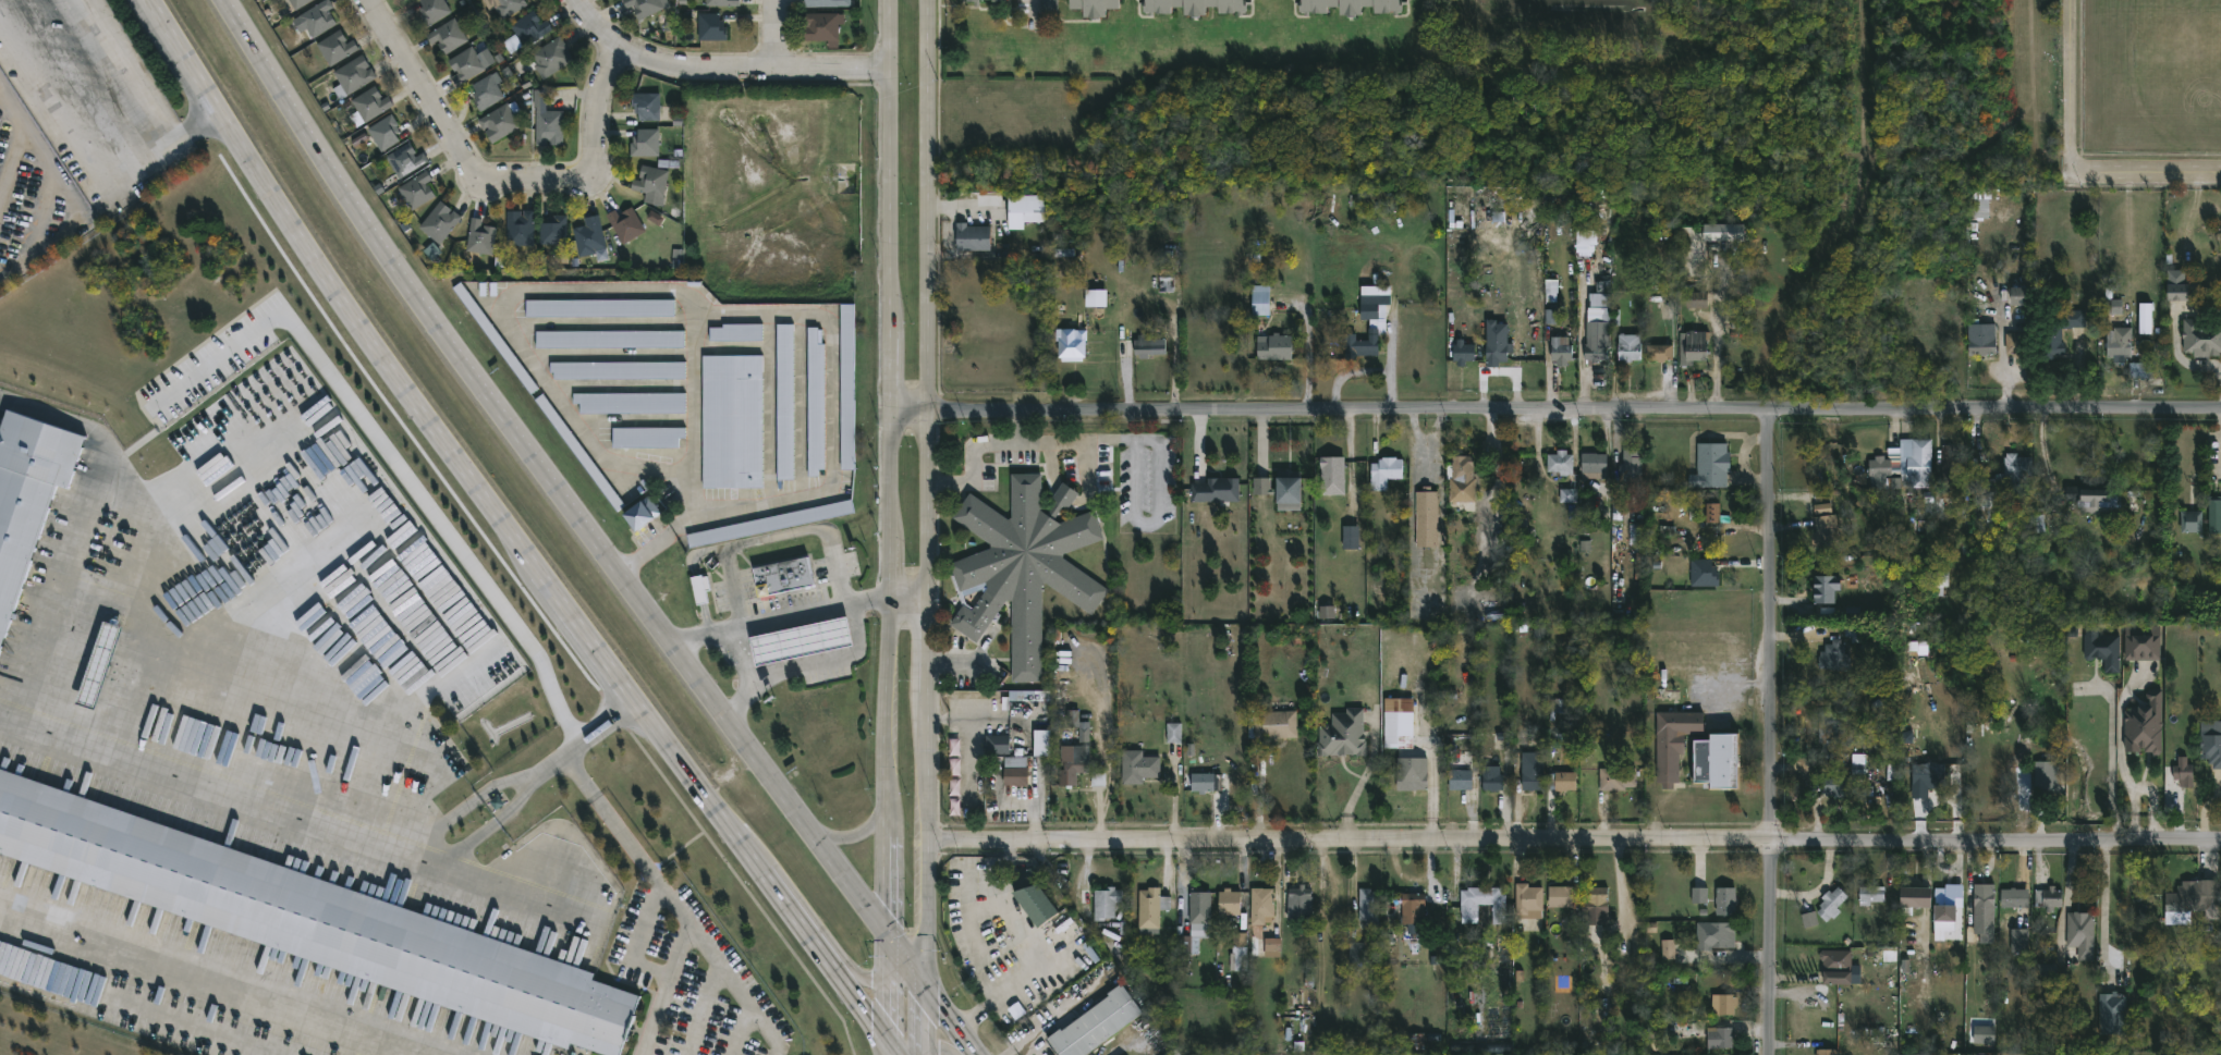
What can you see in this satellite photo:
building: (408, 0)
building: (722, 2)
building: (828, 2)
building: (977, 2)
building: (297, 3)
road: (1036, 5)
building: (1196, 5)
building: (1353, 5)
building: (508, 7)
building: (645, 7)
building: (1096, 7)
building: (434, 10)
building: (316, 17)
building: (711, 26)
building: (530, 27)
building: (821, 27)
building: (448, 35)
road: (774, 35)
road: (248, 39)
building: (335, 47)
road: (192, 56)
building: (551, 57)
road: (725, 63)
building: (465, 65)
building: (354, 74)
road: (114, 75)
road: (2070, 85)
building: (487, 91)
building: (370, 103)
building: (646, 105)
building: (499, 122)
building: (549, 126)
building: (383, 132)
building: (646, 142)
building: (404, 159)
road: (93, 171)
road: (2146, 171)
road: (504, 176)
building: (651, 180)
building: (416, 191)
road: (68, 199)
building: (1026, 209)
building: (439, 221)
building: (626, 223)
building: (520, 228)
building: (553, 230)
building: (589, 236)
building: (973, 236)
building: (478, 240)
building: (1693, 259)
building: (2177, 294)
building: (2023, 295)
building: (1697, 297)
building: (1261, 299)
building: (1372, 300)
building: (599, 308)
road: (699, 315)
building: (2148, 318)
building: (1920, 323)
building: (2055, 332)
building: (735, 333)
building: (2202, 339)
building: (496, 340)
building: (609, 340)
building: (1981, 340)
road: (1718, 341)
building: (2018, 343)
building: (2121, 343)
building: (1072, 344)
building: (1363, 344)
building: (1143, 345)
building: (1274, 346)
building: (1694, 346)
building: (1630, 347)
building: (1562, 348)
building: (1595, 348)
building: (1498, 352)
building: (1660, 353)
road: (1308, 355)
building: (1463, 355)
road: (2177, 355)
road: (1393, 366)
road: (1345, 370)
building: (2141, 370)
building: (617, 371)
road: (2078, 372)
building: (846, 388)
road: (692, 396)
building: (784, 403)
building: (630, 404)
building: (815, 404)
road: (1558, 415)
building: (732, 422)
building: (646, 439)
road: (1005, 444)
building: (578, 453)
building: (1916, 462)
building: (1560, 463)
building: (1951, 463)
building: (1596, 464)
building: (1711, 466)
building: (1880, 468)
building: (1631, 469)
road: (894, 471)
building: (1386, 473)
building: (2016, 474)
building: (1332, 475)
building: (1463, 480)
building: (1283, 489)
building: (1217, 490)
building: (26, 493)
road: (929, 494)
building: (1569, 496)
building: (2099, 499)
building: (1989, 500)
building: (1711, 510)
building: (642, 513)
building: (2214, 514)
road: (576, 515)
building: (1427, 518)
building: (2193, 522)
building: (770, 525)
building: (1826, 530)
road: (773, 535)
building: (1024, 566)
building: (1704, 573)
building: (782, 576)
road: (557, 587)
building: (699, 587)
building: (1827, 589)
road: (798, 615)
building: (801, 639)
gas station: (801, 639)
building: (2143, 642)
building: (2103, 649)
building: (1836, 655)
road: (741, 657)
road: (953, 662)
building: (96, 666)
road: (805, 666)
building: (1028, 695)
building: (2144, 723)
building: (1272, 725)
building: (1834, 729)
road: (1767, 733)
building: (1343, 735)
building: (1674, 741)
building: (2211, 741)
road: (584, 744)
building: (1042, 744)
building: (997, 745)
building: (1720, 760)
building: (1072, 766)
building: (1139, 768)
building: (1534, 771)
building: (2184, 772)
building: (2047, 774)
road: (734, 776)
building: (1016, 777)
building: (1460, 777)
building: (1928, 777)
building: (954, 778)
building: (1411, 778)
building: (1492, 778)
building: (1616, 778)
building: (1563, 782)
building: (1209, 783)
road: (1362, 783)
building: (1836, 785)
road: (863, 830)
road: (1573, 846)
road: (431, 852)
road: (1033, 864)
building: (1872, 893)
building: (1033, 895)
building: (1563, 896)
building: (1699, 896)
building: (1919, 896)
building: (2016, 896)
building: (2194, 896)
building: (2050, 897)
building: (1230, 899)
building: (1596, 899)
building: (1529, 900)
building: (1726, 900)
building: (1986, 900)
road: (671, 901)
building: (1107, 901)
building: (1485, 901)
building: (1949, 901)
building: (1260, 903)
building: (1301, 903)
building: (1832, 903)
building: (1152, 906)
building: (1201, 906)
building: (1369, 906)
building: (1413, 907)
building: (310, 917)
building: (2083, 932)
building: (1722, 933)
road: (639, 939)
building: (2021, 940)
traffic signals: (890, 943)
building: (1187, 944)
road: (1038, 945)
building: (1269, 946)
building: (1241, 950)
building: (1836, 966)
road: (864, 977)
parking lot: (686, 982)
traffic signals: (926, 989)
road: (667, 990)
road: (891, 993)
road: (932, 997)
building: (1721, 1002)
road: (704, 1009)
building: (2113, 1013)
road: (1055, 1020)
road: (926, 1021)
building: (1097, 1023)
building: (1986, 1033)
building: (1720, 1036)
traffic signals: (892, 1044)
road: (926, 1044)
road: (780, 1050)
road: (892, 1050)
parking lot: (577, 1054)
building: (1915, 1054)

